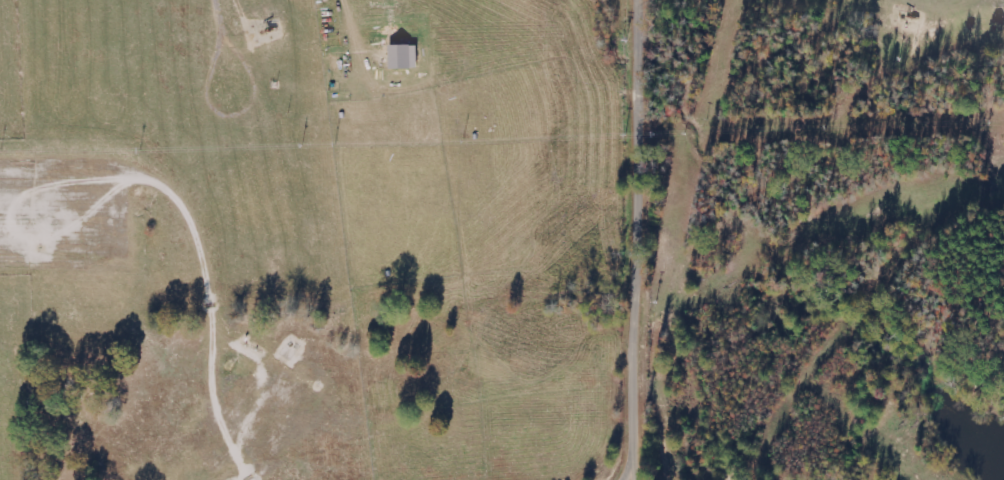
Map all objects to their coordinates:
road: (646, 25)
road: (645, 185)
road: (642, 401)

